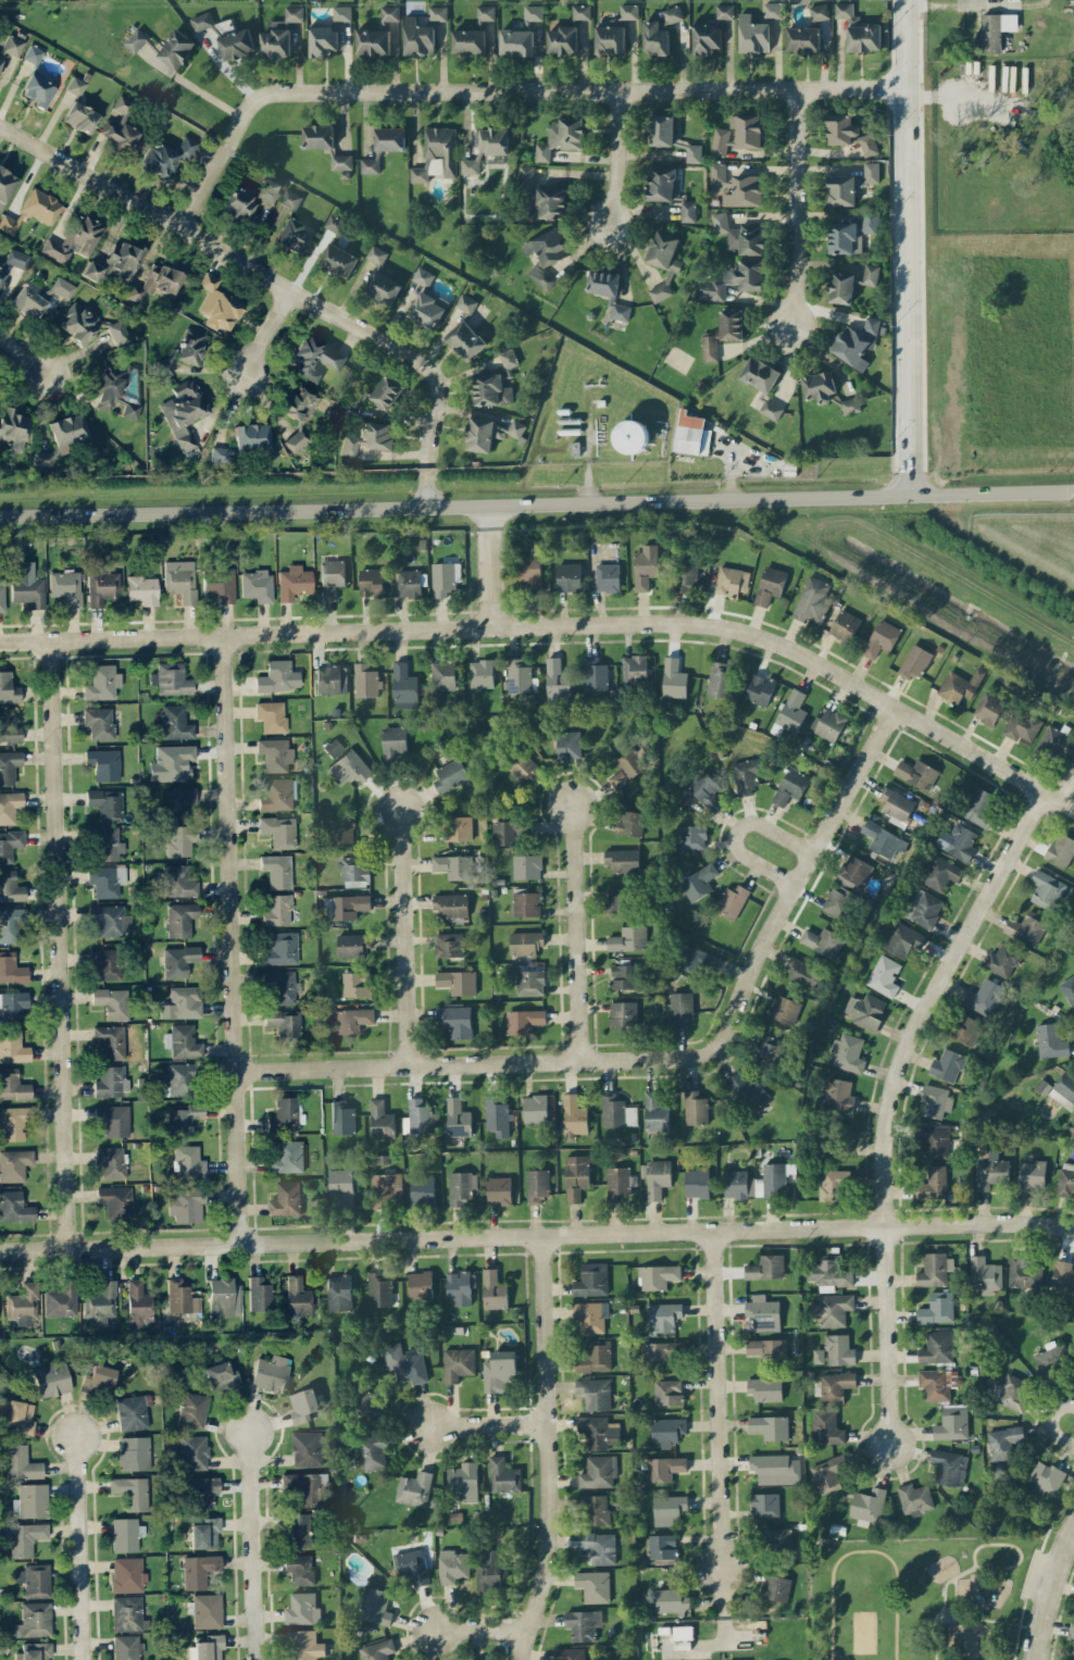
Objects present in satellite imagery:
building: (771, 10)
building: (628, 11)
building: (724, 11)
building: (485, 12)
building: (580, 12)
building: (819, 12)
building: (341, 13)
building: (389, 13)
building: (437, 13)
building: (533, 13)
building: (672, 14)
building: (201, 21)
building: (859, 29)
building: (996, 29)
building: (279, 34)
building: (752, 35)
building: (417, 37)
building: (654, 38)
building: (705, 38)
building: (610, 39)
building: (803, 39)
building: (135, 40)
building: (323, 40)
building: (562, 40)
building: (469, 41)
building: (373, 42)
building: (516, 42)
building: (236, 43)
building: (12, 45)
building: (176, 49)
building: (33, 53)
building: (0, 60)
building: (75, 85)
road: (197, 88)
building: (38, 90)
road: (509, 93)
building: (122, 105)
building: (80, 116)
building: (661, 129)
building: (748, 130)
building: (849, 133)
building: (319, 136)
building: (122, 137)
building: (561, 137)
building: (389, 138)
building: (720, 141)
building: (494, 145)
building: (441, 150)
building: (694, 152)
building: (166, 155)
road: (617, 161)
building: (340, 162)
building: (370, 165)
building: (470, 166)
building: (871, 172)
building: (717, 173)
building: (419, 174)
building: (5, 185)
building: (270, 189)
building: (667, 190)
building: (745, 190)
building: (842, 190)
building: (540, 196)
building: (290, 200)
building: (237, 202)
building: (40, 205)
road: (145, 209)
road: (796, 210)
building: (8, 223)
building: (334, 223)
building: (851, 234)
building: (740, 235)
building: (292, 236)
building: (74, 238)
road: (914, 245)
building: (376, 254)
building: (546, 255)
building: (17, 258)
building: (124, 259)
building: (338, 260)
building: (663, 262)
building: (92, 270)
building: (871, 273)
building: (2, 276)
building: (734, 279)
building: (155, 282)
building: (62, 287)
building: (383, 287)
building: (841, 287)
building: (609, 291)
building: (27, 299)
building: (426, 301)
building: (465, 303)
building: (217, 304)
building: (78, 323)
building: (730, 324)
building: (117, 332)
road: (268, 333)
building: (465, 339)
building: (857, 342)
building: (190, 346)
building: (709, 347)
road: (24, 350)
building: (314, 357)
building: (508, 358)
road: (420, 362)
building: (164, 364)
building: (760, 374)
building: (108, 385)
building: (820, 386)
building: (490, 389)
building: (387, 391)
building: (355, 401)
building: (850, 405)
building: (771, 409)
building: (130, 410)
building: (184, 412)
building: (298, 412)
building: (67, 428)
building: (13, 429)
building: (488, 433)
building: (376, 434)
building: (691, 434)
building: (251, 436)
building: (630, 436)
building: (348, 446)
building: (220, 454)
building: (42, 458)
road: (537, 499)
road: (492, 528)
building: (645, 566)
building: (685, 574)
building: (569, 576)
building: (607, 577)
building: (332, 578)
building: (180, 579)
building: (444, 579)
building: (732, 581)
building: (294, 582)
building: (371, 582)
building: (409, 583)
building: (220, 584)
building: (257, 585)
building: (770, 585)
building: (65, 586)
building: (102, 587)
building: (142, 589)
road: (494, 590)
building: (27, 591)
building: (1, 595)
building: (813, 600)
road: (560, 624)
building: (845, 625)
building: (881, 638)
building: (914, 661)
building: (634, 667)
building: (482, 674)
building: (595, 674)
building: (444, 675)
building: (277, 676)
building: (519, 676)
building: (171, 678)
building: (673, 678)
building: (719, 678)
building: (332, 679)
building: (366, 681)
building: (101, 682)
building: (557, 683)
building: (959, 685)
building: (403, 686)
building: (8, 688)
building: (760, 689)
building: (988, 708)
building: (791, 711)
building: (271, 715)
building: (99, 722)
building: (175, 722)
building: (828, 724)
building: (1022, 726)
building: (9, 728)
building: (1057, 741)
building: (394, 744)
building: (567, 745)
building: (333, 747)
building: (275, 754)
building: (171, 762)
building: (103, 763)
building: (9, 765)
building: (629, 765)
building: (1072, 766)
building: (349, 767)
building: (916, 773)
building: (450, 774)
building: (746, 776)
building: (791, 786)
building: (705, 790)
building: (277, 794)
building: (175, 801)
building: (107, 803)
building: (896, 803)
building: (10, 806)
building: (978, 807)
building: (629, 822)
building: (459, 827)
building: (339, 829)
building: (278, 831)
road: (736, 831)
building: (504, 833)
building: (691, 836)
building: (180, 839)
building: (883, 839)
building: (958, 841)
building: (10, 844)
building: (105, 844)
building: (1061, 850)
building: (622, 859)
building: (453, 866)
building: (526, 866)
building: (277, 870)
building: (354, 871)
building: (853, 872)
building: (939, 872)
building: (107, 879)
building: (174, 882)
building: (699, 882)
building: (11, 886)
building: (1046, 889)
building: (616, 900)
building: (732, 901)
building: (837, 902)
building: (526, 903)
building: (450, 904)
building: (345, 906)
building: (923, 908)
building: (277, 910)
building: (180, 919)
building: (110, 920)
building: (11, 923)
building: (1026, 927)
road: (576, 931)
building: (628, 938)
road: (229, 939)
road: (404, 939)
building: (902, 939)
building: (823, 941)
building: (525, 943)
road: (61, 945)
building: (352, 945)
building: (448, 945)
building: (282, 948)
building: (179, 960)
building: (697, 960)
building: (1003, 960)
building: (105, 962)
building: (11, 968)
building: (802, 973)
building: (884, 975)
building: (624, 976)
building: (457, 982)
building: (355, 984)
building: (280, 985)
building: (1069, 989)
building: (986, 997)
road: (928, 999)
building: (111, 1001)
building: (182, 1002)
building: (12, 1007)
building: (680, 1007)
building: (784, 1009)
building: (865, 1010)
building: (623, 1013)
building: (351, 1018)
building: (455, 1021)
building: (523, 1021)
building: (284, 1023)
building: (964, 1028)
building: (110, 1040)
building: (183, 1040)
building: (1050, 1040)
building: (13, 1046)
building: (769, 1047)
building: (847, 1052)
road: (672, 1057)
building: (947, 1064)
building: (178, 1078)
building: (111, 1081)
building: (12, 1085)
building: (1063, 1087)
building: (748, 1089)
building: (837, 1095)
building: (935, 1101)
building: (695, 1108)
building: (535, 1109)
building: (615, 1111)
building: (654, 1111)
building: (285, 1114)
building: (341, 1116)
building: (417, 1116)
building: (497, 1116)
building: (573, 1116)
building: (183, 1118)
building: (457, 1118)
building: (114, 1119)
building: (380, 1120)
building: (13, 1122)
building: (934, 1140)
building: (836, 1148)
building: (287, 1157)
building: (110, 1161)
building: (188, 1161)
building: (14, 1163)
building: (990, 1170)
building: (1031, 1174)
building: (576, 1176)
building: (657, 1177)
building: (1065, 1180)
building: (760, 1181)
building: (617, 1183)
building: (697, 1183)
building: (833, 1184)
building: (932, 1184)
building: (536, 1185)
building: (341, 1186)
building: (387, 1187)
building: (461, 1187)
building: (422, 1189)
building: (499, 1190)
building: (286, 1199)
building: (115, 1200)
building: (186, 1205)
building: (14, 1207)
road: (978, 1223)
road: (441, 1239)
building: (766, 1268)
building: (935, 1270)
building: (1024, 1272)
building: (828, 1273)
building: (985, 1275)
building: (658, 1276)
building: (1063, 1277)
building: (591, 1280)
building: (420, 1284)
building: (460, 1286)
building: (378, 1289)
building: (494, 1290)
building: (338, 1293)
building: (259, 1294)
building: (297, 1296)
building: (180, 1297)
building: (224, 1297)
building: (60, 1299)
building: (100, 1302)
building: (22, 1305)
building: (138, 1305)
building: (937, 1308)
building: (831, 1310)
building: (763, 1312)
building: (589, 1316)
building: (663, 1316)
road: (886, 1337)
building: (765, 1347)
building: (937, 1347)
building: (839, 1350)
building: (660, 1353)
building: (819, 1356)
building: (595, 1357)
building: (1048, 1360)
building: (404, 1362)
building: (458, 1363)
building: (499, 1371)
building: (271, 1372)
building: (221, 1375)
building: (51, 1378)
building: (99, 1378)
building: (937, 1383)
building: (835, 1386)
building: (765, 1388)
building: (667, 1391)
building: (1013, 1391)
building: (597, 1394)
road: (716, 1400)
building: (367, 1402)
building: (303, 1405)
building: (192, 1409)
building: (132, 1412)
building: (20, 1415)
building: (952, 1422)
road: (1048, 1423)
road: (488, 1425)
building: (770, 1426)
building: (826, 1427)
building: (667, 1431)
building: (599, 1432)
building: (1003, 1441)
building: (307, 1448)
road: (547, 1450)
building: (193, 1451)
building: (134, 1452)
building: (370, 1452)
building: (20, 1462)
building: (949, 1466)
building: (663, 1468)
building: (775, 1469)
building: (598, 1472)
building: (828, 1472)
building: (503, 1475)
building: (1046, 1477)
building: (463, 1481)
building: (307, 1487)
building: (413, 1488)
building: (132, 1490)
building: (203, 1490)
building: (914, 1498)
building: (30, 1500)
building: (765, 1505)
building: (867, 1505)
building: (594, 1509)
building: (667, 1509)
building: (297, 1530)
building: (204, 1533)
building: (124, 1534)
building: (777, 1536)
building: (24, 1537)
road: (253, 1546)
building: (662, 1546)
building: (599, 1547)
road: (79, 1548)
building: (411, 1564)
building: (452, 1565)
building: (299, 1569)
building: (198, 1570)
building: (491, 1571)
building: (127, 1574)
building: (34, 1580)
building: (594, 1585)
building: (775, 1587)
road: (1050, 1593)
building: (671, 1601)
road: (722, 1605)
building: (374, 1607)
building: (302, 1609)
building: (127, 1613)
building: (34, 1619)
building: (582, 1624)
road: (484, 1627)
building: (683, 1632)
building: (1071, 1635)
building: (304, 1645)
building: (126, 1647)
building: (209, 1647)
building: (377, 1650)
building: (34, 1651)
building: (569, 1653)
building: (478, 1659)

